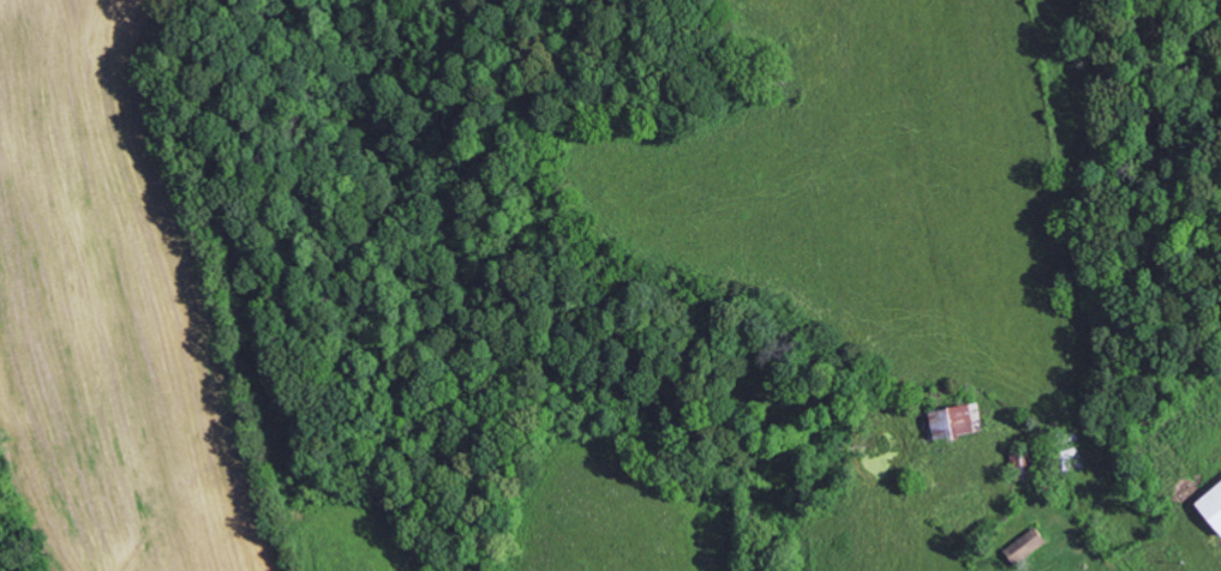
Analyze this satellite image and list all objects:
building: (1209, 505)

